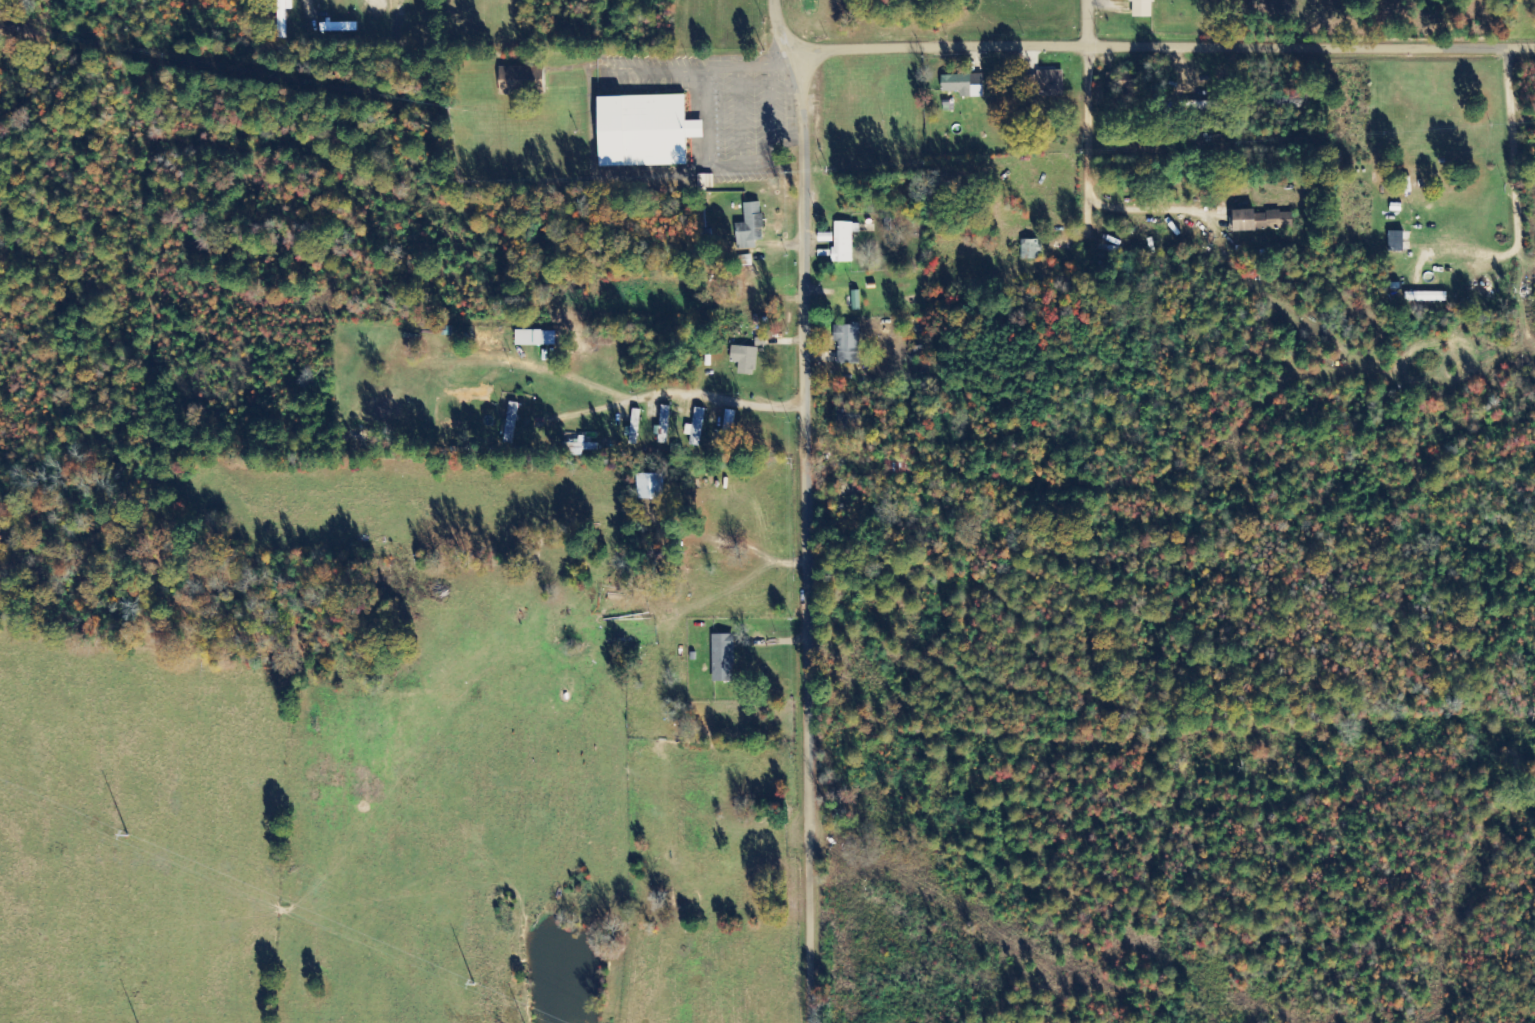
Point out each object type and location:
building: (283, 7)
building: (1141, 8)
road: (1086, 23)
building: (338, 26)
road: (1163, 46)
building: (521, 79)
building: (1050, 83)
building: (963, 85)
building: (644, 131)
road: (1216, 143)
building: (1261, 221)
building: (750, 227)
building: (843, 241)
building: (1396, 241)
building: (1030, 249)
building: (1425, 297)
building: (856, 300)
building: (535, 338)
building: (848, 344)
building: (744, 360)
building: (511, 423)
building: (663, 426)
building: (696, 428)
road: (809, 508)
building: (723, 658)

